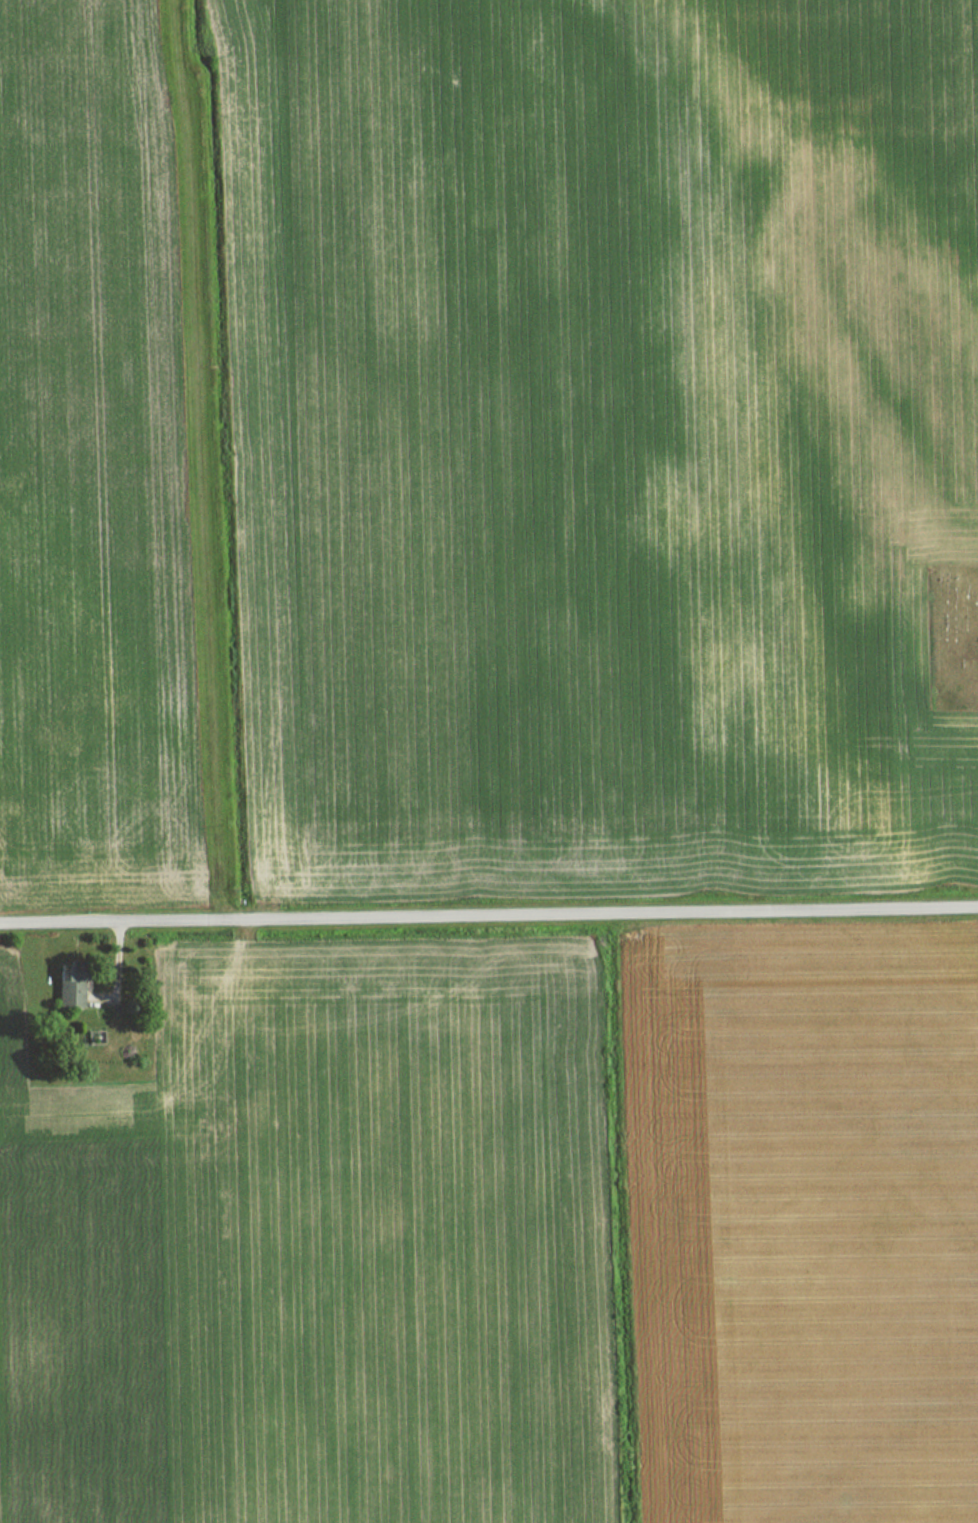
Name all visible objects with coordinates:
crop: (598, 435)
crop: (87, 461)
park: (954, 638)
road: (489, 913)
crop: (803, 1230)
crop: (326, 1249)

